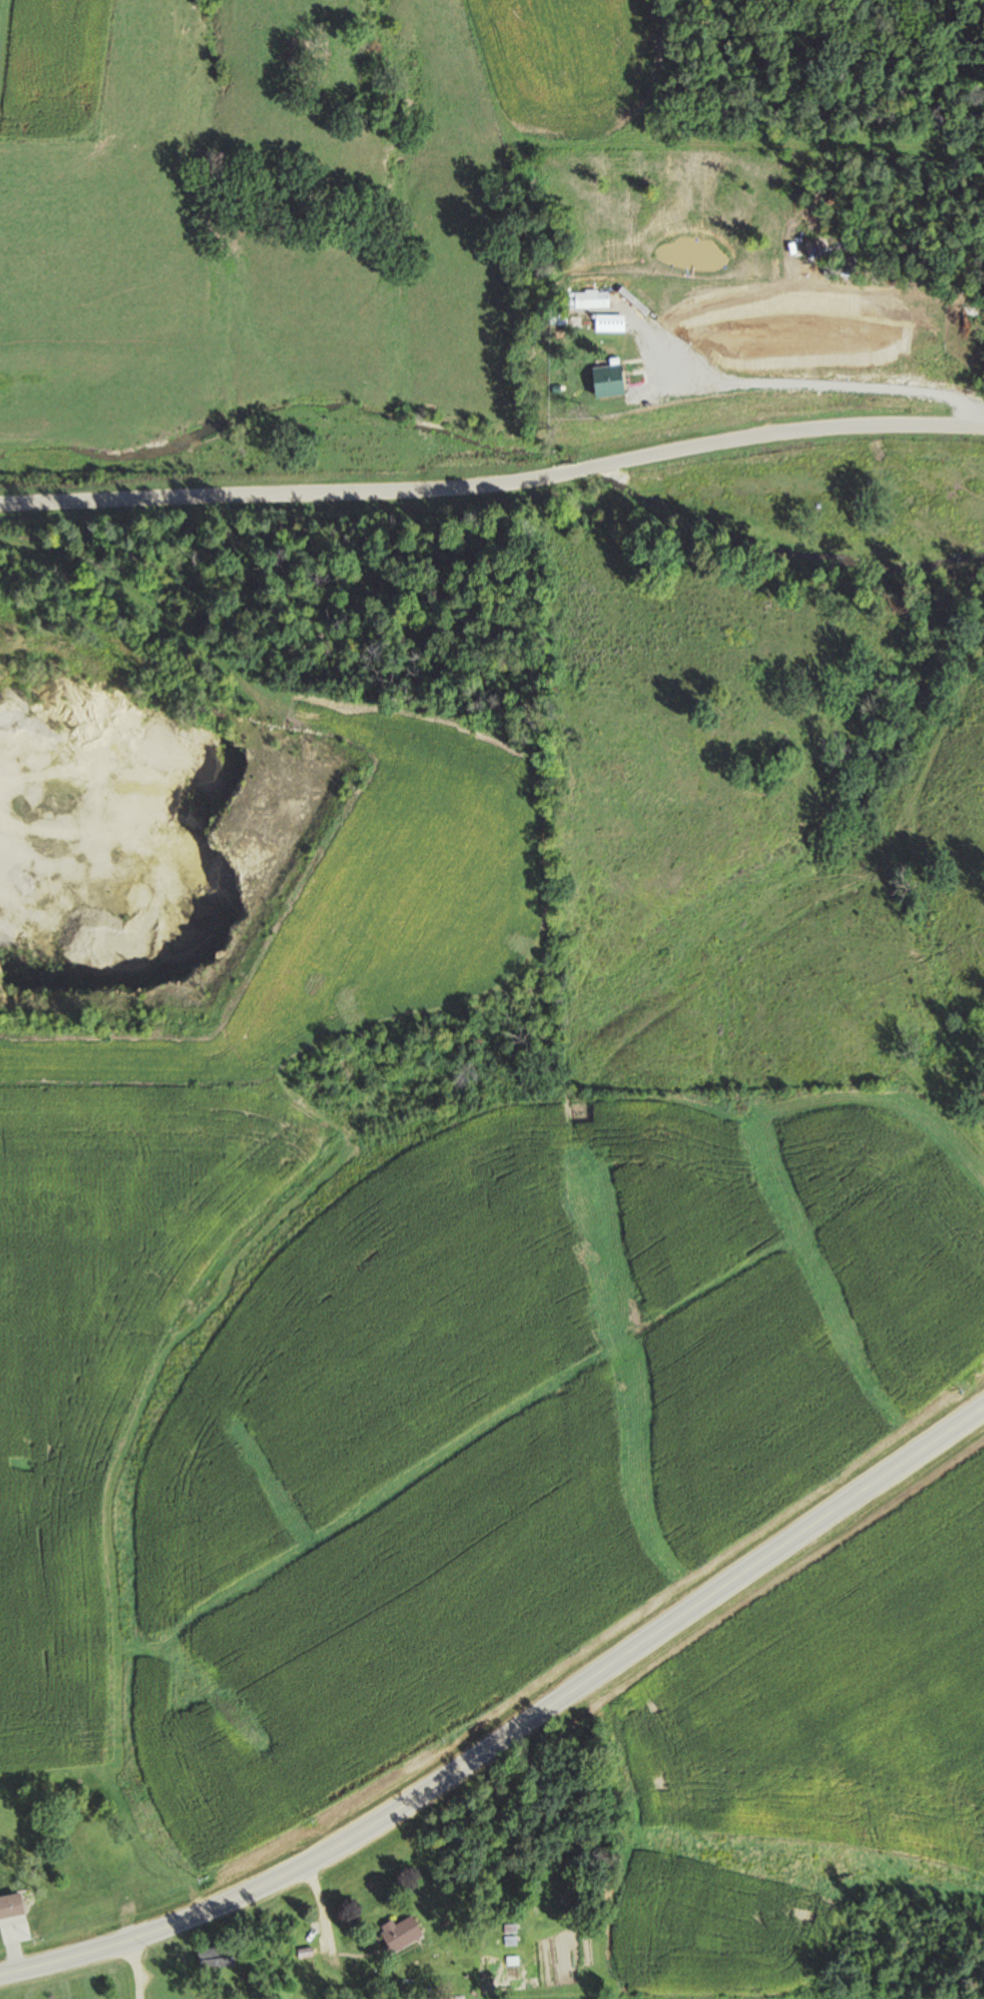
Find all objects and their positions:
building: (668, 284)
building: (604, 380)
road: (495, 475)
road: (512, 1729)
building: (9, 1908)
building: (397, 1933)
building: (214, 1957)

